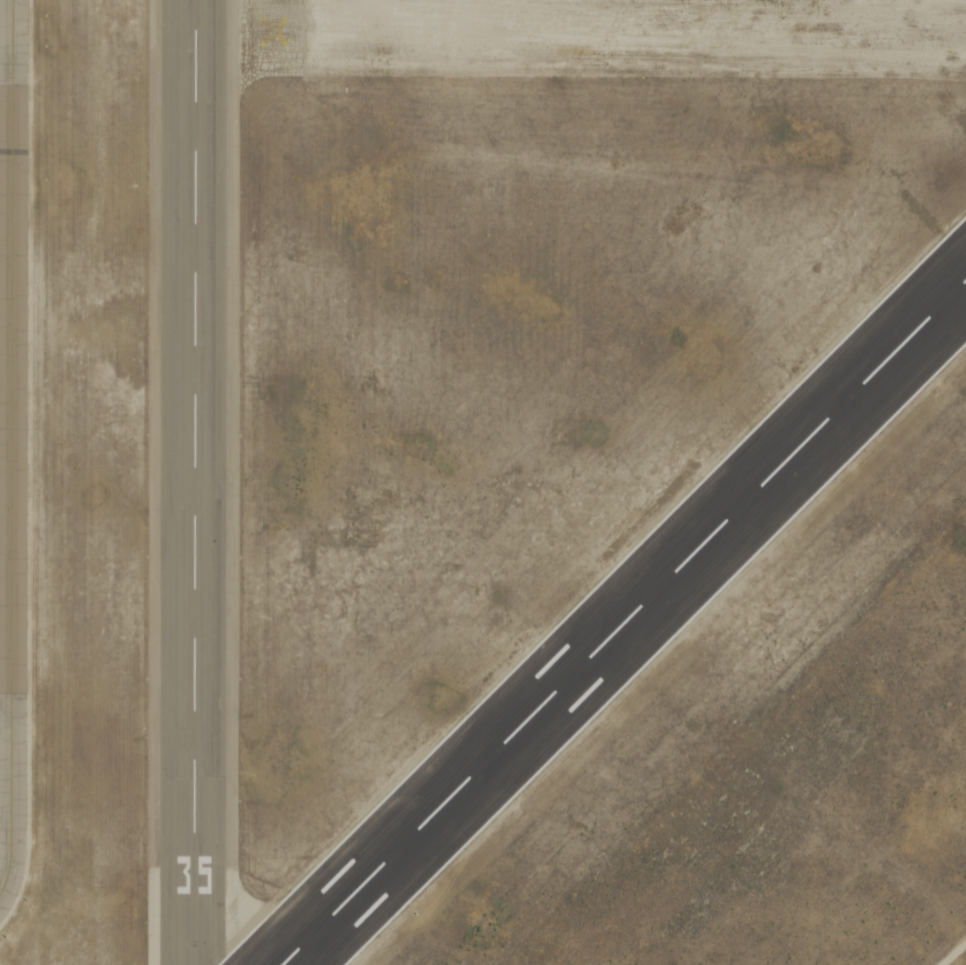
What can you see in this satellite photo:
airport taxiway: (14, 454)
airport runway: (195, 482)
airport: (483, 482)
airport runway: (623, 623)
road: (953, 953)

